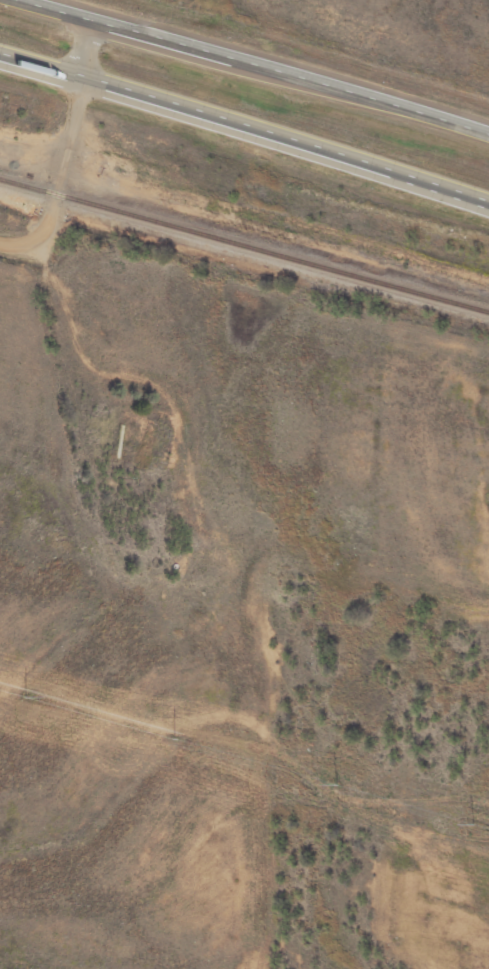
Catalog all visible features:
road: (263, 63)
road: (244, 124)
road: (66, 147)
railway: (119, 211)
railway: (364, 278)

